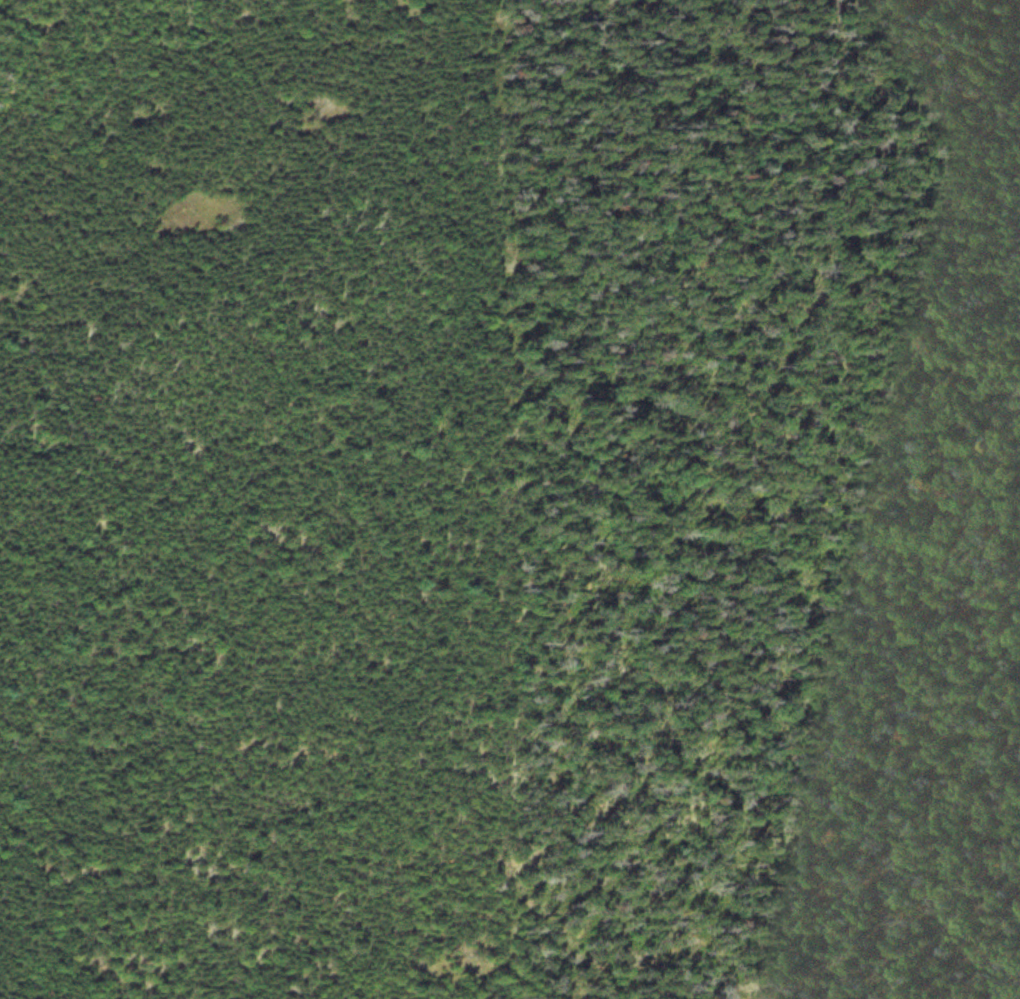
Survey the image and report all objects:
road: (290, 62)

